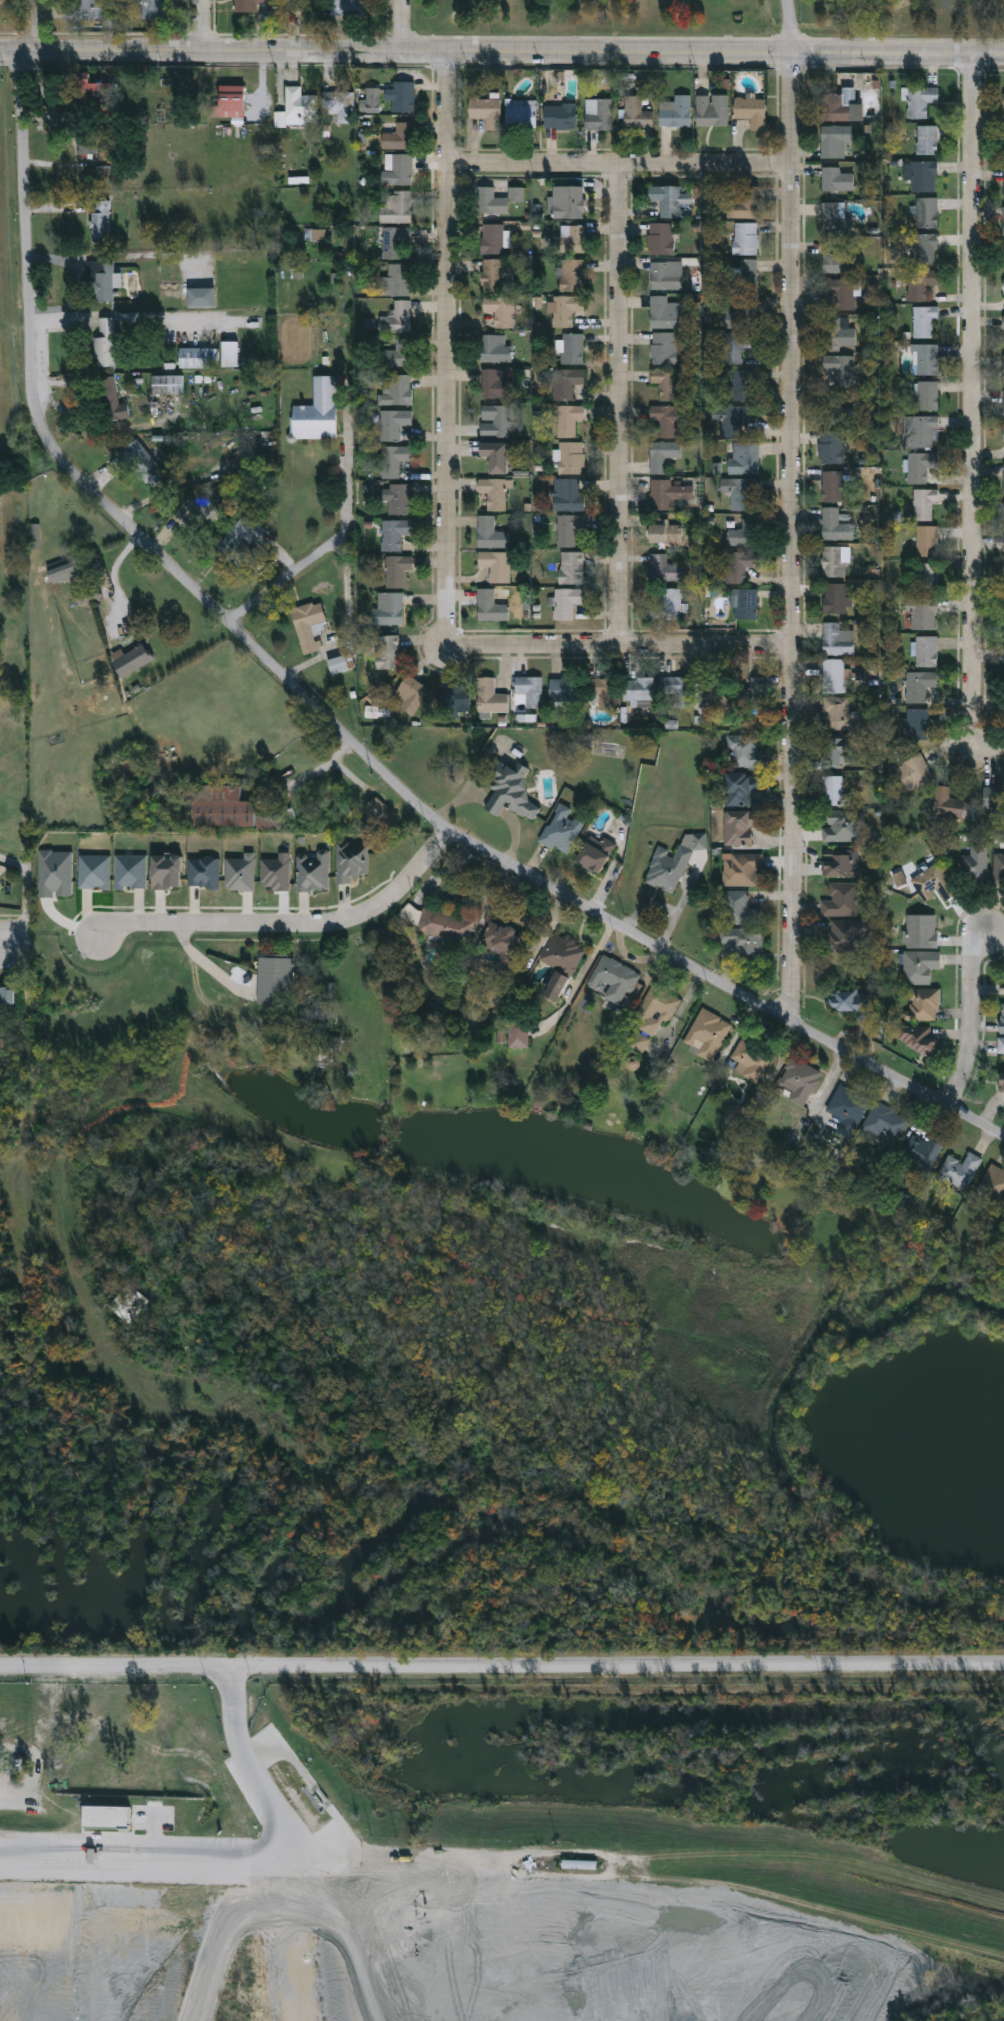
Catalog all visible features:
building: (246, 4)
building: (349, 7)
building: (86, 8)
building: (151, 9)
park: (712, 19)
road: (26, 24)
road: (202, 25)
road: (402, 25)
road: (789, 26)
road: (501, 52)
building: (87, 89)
building: (401, 95)
building: (369, 99)
building: (1003, 99)
building: (228, 100)
building: (919, 100)
building: (292, 103)
building: (338, 104)
building: (840, 105)
building: (710, 109)
building: (749, 109)
building: (484, 110)
building: (675, 111)
building: (635, 112)
building: (520, 113)
building: (599, 114)
building: (558, 115)
building: (395, 134)
building: (925, 139)
building: (833, 140)
building: (1003, 146)
road: (620, 162)
building: (397, 167)
building: (922, 175)
building: (834, 178)
building: (1003, 183)
building: (517, 193)
building: (669, 199)
building: (489, 200)
building: (567, 201)
building: (394, 205)
building: (741, 205)
building: (925, 211)
building: (833, 217)
building: (1003, 219)
building: (99, 220)
building: (745, 236)
building: (491, 237)
building: (568, 237)
building: (659, 237)
building: (393, 240)
building: (921, 248)
building: (834, 254)
building: (1003, 256)
building: (494, 273)
building: (665, 273)
building: (741, 273)
building: (571, 274)
building: (398, 278)
building: (99, 279)
building: (918, 282)
building: (1003, 285)
building: (838, 292)
building: (199, 295)
building: (499, 308)
building: (564, 308)
building: (740, 310)
building: (663, 311)
road: (108, 313)
building: (396, 317)
building: (922, 320)
building: (1003, 321)
building: (836, 333)
road: (448, 335)
building: (103, 343)
building: (663, 347)
building: (492, 348)
building: (570, 348)
building: (228, 352)
building: (396, 353)
building: (195, 355)
building: (925, 358)
building: (839, 368)
building: (1003, 368)
building: (564, 381)
building: (664, 381)
building: (736, 382)
building: (166, 383)
building: (495, 383)
building: (393, 388)
road: (973, 389)
building: (926, 394)
building: (109, 399)
road: (619, 402)
building: (1003, 404)
building: (835, 410)
building: (315, 411)
building: (567, 419)
building: (664, 419)
building: (494, 420)
building: (392, 423)
building: (920, 429)
building: (1003, 433)
building: (830, 446)
building: (495, 454)
building: (661, 454)
building: (569, 457)
building: (742, 457)
building: (392, 459)
building: (141, 462)
building: (918, 465)
building: (1003, 478)
building: (832, 485)
building: (492, 492)
building: (739, 492)
building: (666, 493)
building: (566, 494)
building: (396, 497)
building: (923, 503)
building: (197, 512)
building: (833, 525)
building: (566, 529)
building: (394, 532)
building: (664, 532)
building: (490, 533)
building: (744, 533)
road: (793, 536)
building: (925, 540)
building: (241, 541)
building: (833, 561)
building: (494, 564)
building: (737, 564)
building: (569, 567)
building: (662, 568)
building: (62, 569)
building: (395, 570)
building: (927, 576)
road: (288, 577)
road: (117, 582)
building: (1003, 589)
building: (834, 597)
building: (566, 601)
building: (670, 603)
building: (745, 603)
building: (489, 606)
building: (388, 610)
building: (920, 613)
building: (306, 623)
building: (1003, 626)
building: (834, 640)
road: (613, 643)
building: (925, 650)
building: (385, 651)
building: (130, 660)
building: (337, 664)
building: (833, 675)
building: (918, 684)
building: (637, 688)
building: (676, 688)
building: (529, 689)
building: (564, 691)
building: (601, 691)
building: (756, 691)
building: (411, 694)
building: (1003, 694)
building: (719, 695)
building: (490, 696)
building: (453, 699)
building: (835, 712)
road: (331, 719)
building: (916, 723)
road: (982, 744)
building: (743, 750)
building: (833, 751)
building: (913, 771)
road: (316, 772)
building: (508, 787)
building: (740, 787)
building: (833, 789)
building: (993, 797)
road: (458, 801)
building: (948, 803)
building: (218, 805)
road: (492, 806)
building: (375, 807)
building: (739, 826)
building: (560, 828)
building: (841, 828)
road: (513, 833)
building: (593, 854)
building: (350, 860)
building: (670, 862)
building: (838, 865)
building: (973, 866)
building: (740, 868)
building: (998, 868)
building: (311, 870)
building: (932, 882)
road: (27, 895)
building: (840, 899)
building: (738, 908)
road: (288, 921)
building: (444, 925)
building: (921, 930)
building: (841, 935)
road: (2, 939)
building: (740, 939)
building: (501, 943)
building: (559, 959)
road: (207, 962)
building: (918, 966)
building: (612, 978)
building: (273, 980)
road: (25, 995)
building: (7, 999)
building: (849, 1001)
building: (920, 1003)
building: (653, 1009)
road: (970, 1015)
building: (1001, 1018)
building: (705, 1033)
building: (516, 1034)
building: (914, 1036)
building: (638, 1041)
building: (1000, 1045)
building: (749, 1058)
building: (798, 1080)
building: (1001, 1083)
building: (846, 1109)
building: (883, 1123)
building: (919, 1152)
building: (958, 1169)
building: (992, 1185)
road: (502, 1665)
road: (237, 1863)
building: (580, 1866)
landfill: (406, 1927)

